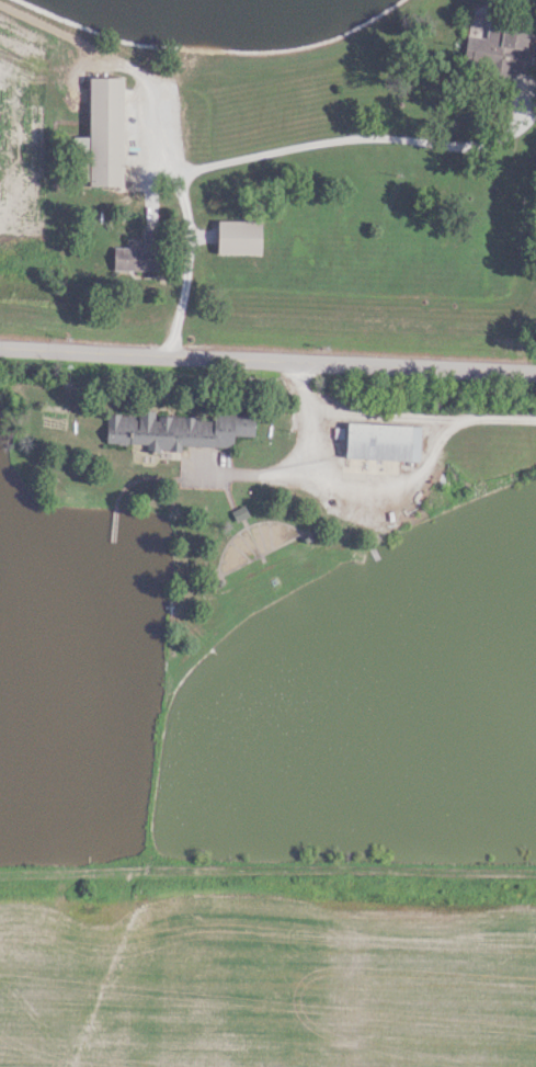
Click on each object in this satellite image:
road: (289, 147)
road: (267, 357)
road: (421, 412)
road: (294, 455)
road: (387, 481)

